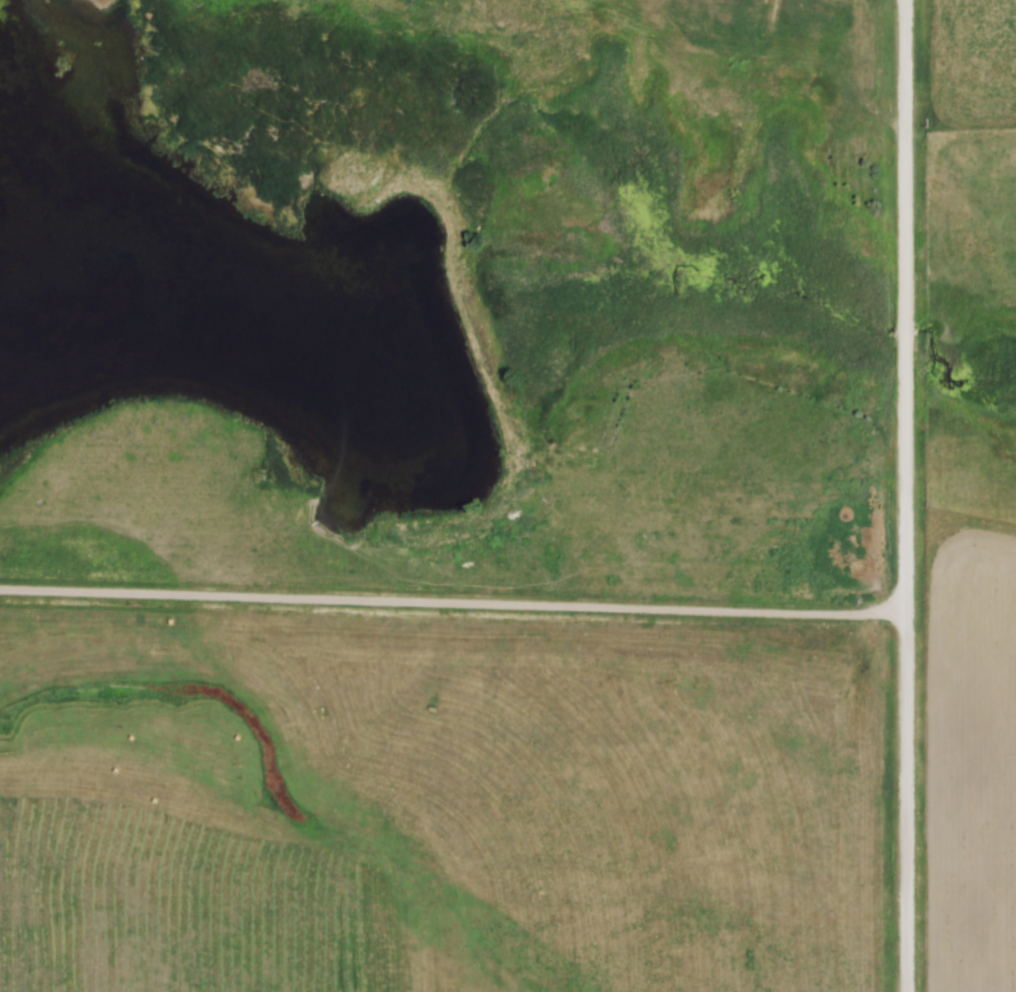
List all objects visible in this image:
road: (907, 495)
road: (454, 600)
building: (647, 746)

